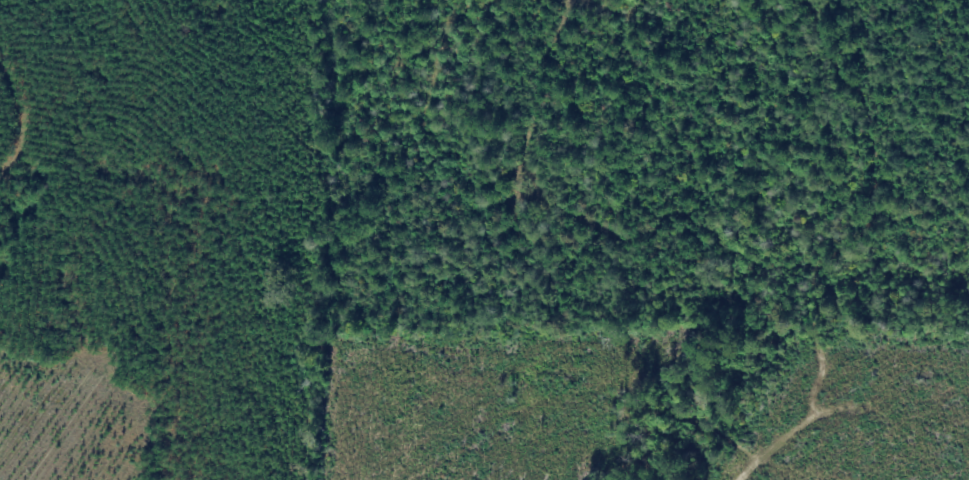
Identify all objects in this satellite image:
road: (151, 219)
road: (837, 242)

